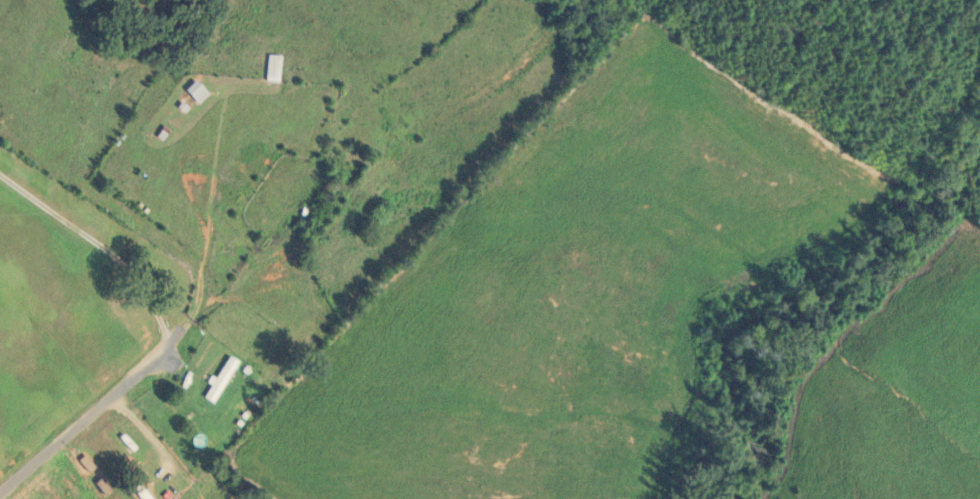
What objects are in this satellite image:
building: (272, 68)
building: (196, 91)
road: (99, 247)
building: (220, 379)
road: (94, 411)
building: (204, 440)
building: (122, 450)
building: (86, 463)
building: (176, 482)
building: (103, 486)

